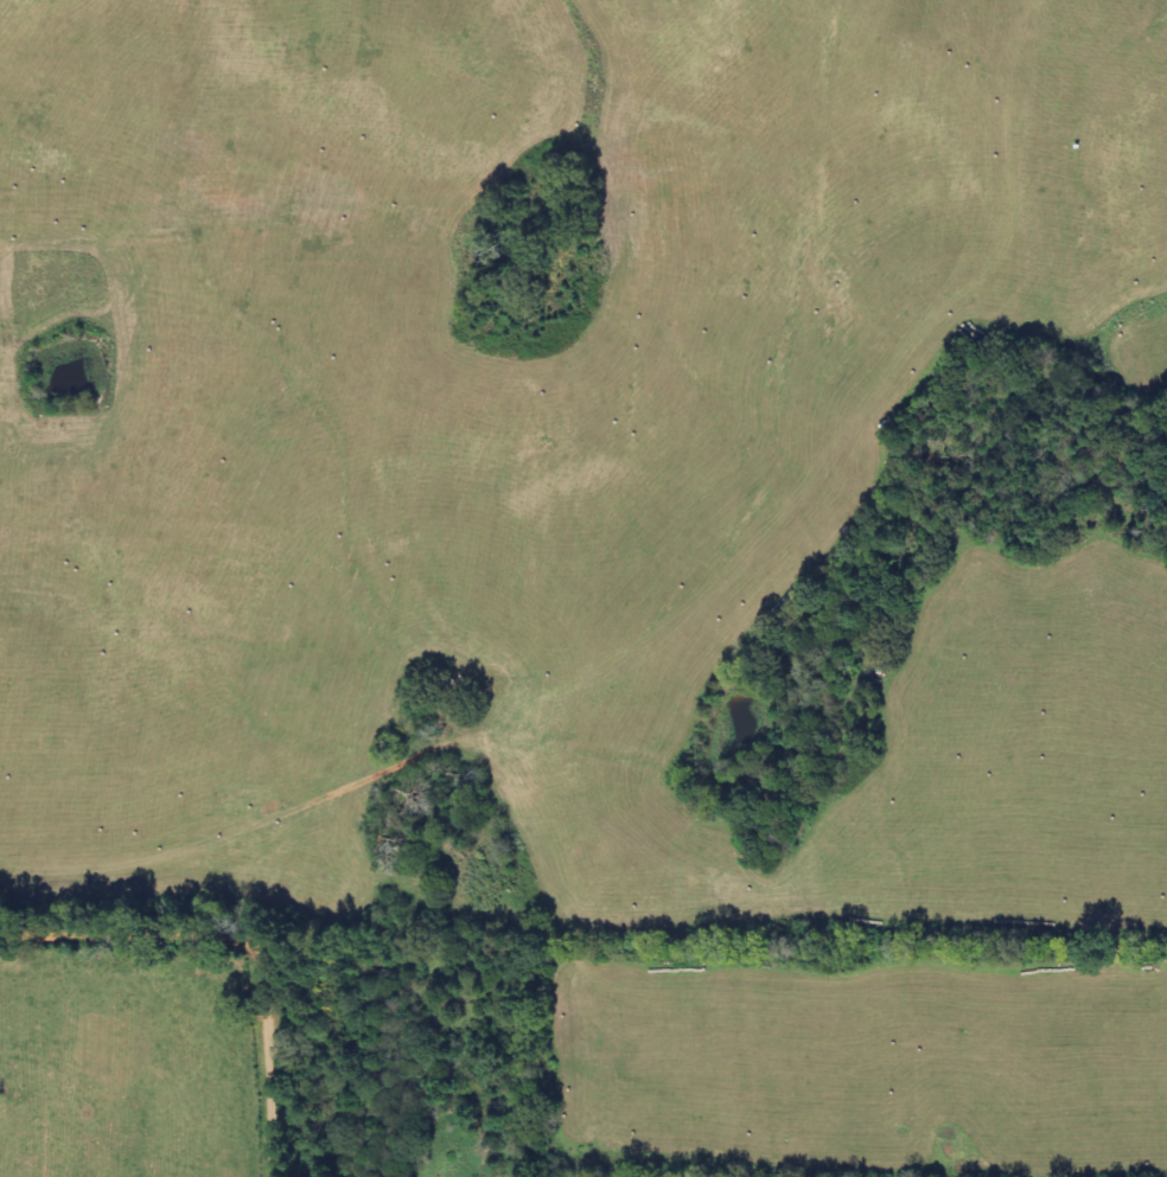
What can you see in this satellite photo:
road: (327, 820)
road: (120, 938)
road: (266, 1054)

